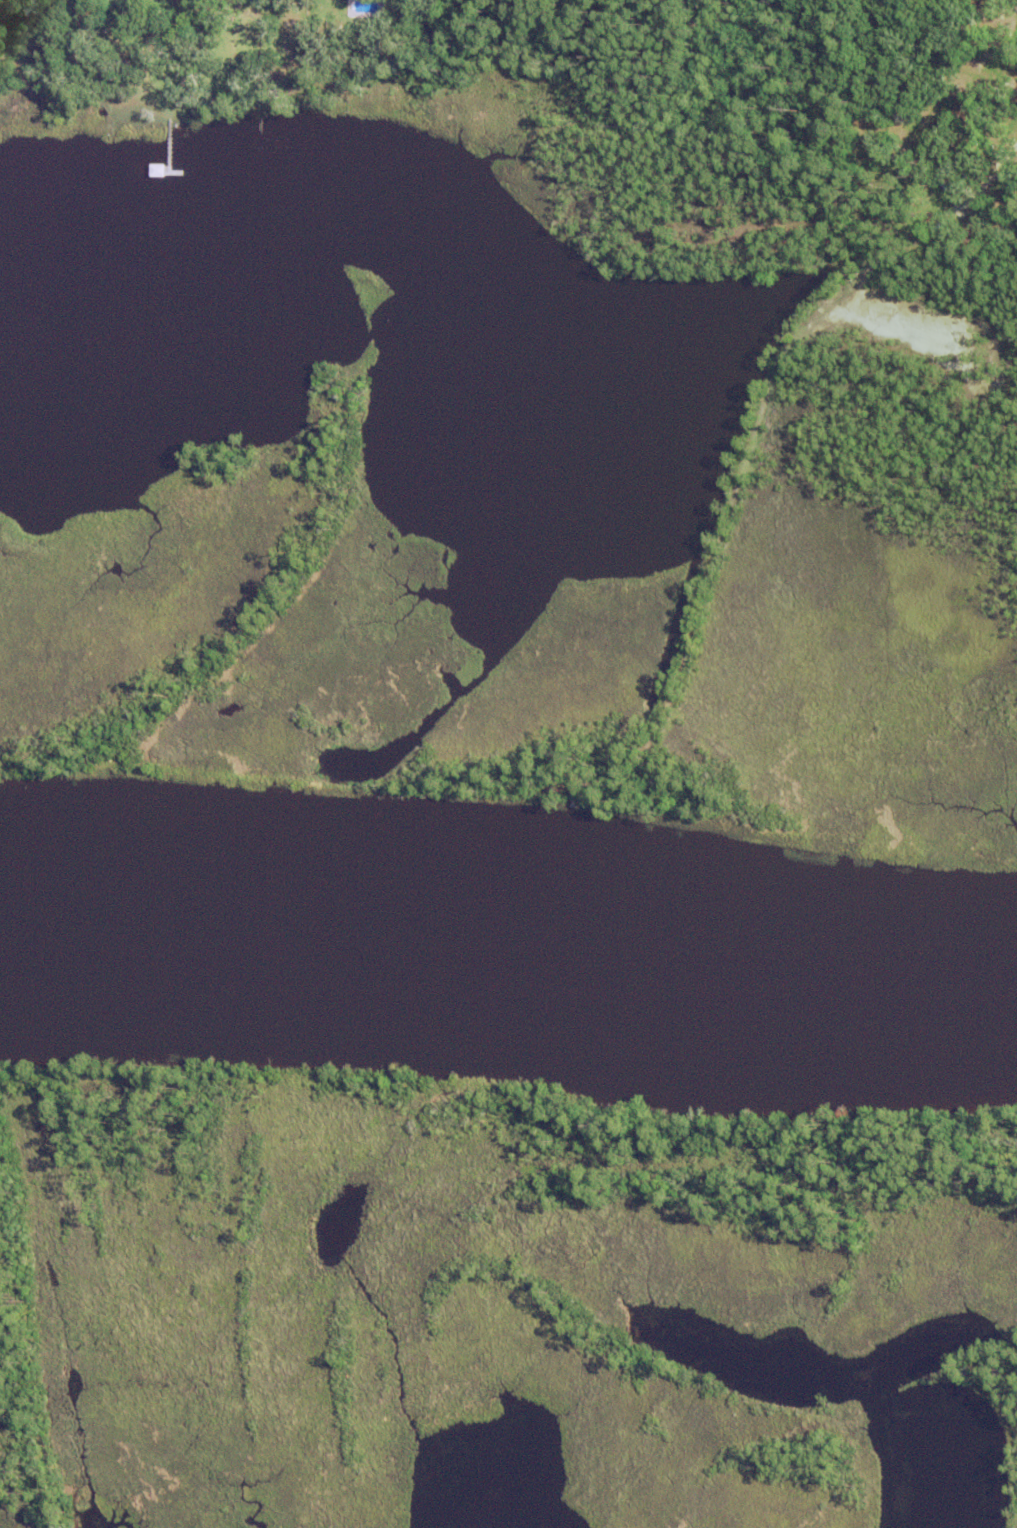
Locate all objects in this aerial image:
building: (414, 2)
building: (249, 25)
river: (508, 969)

